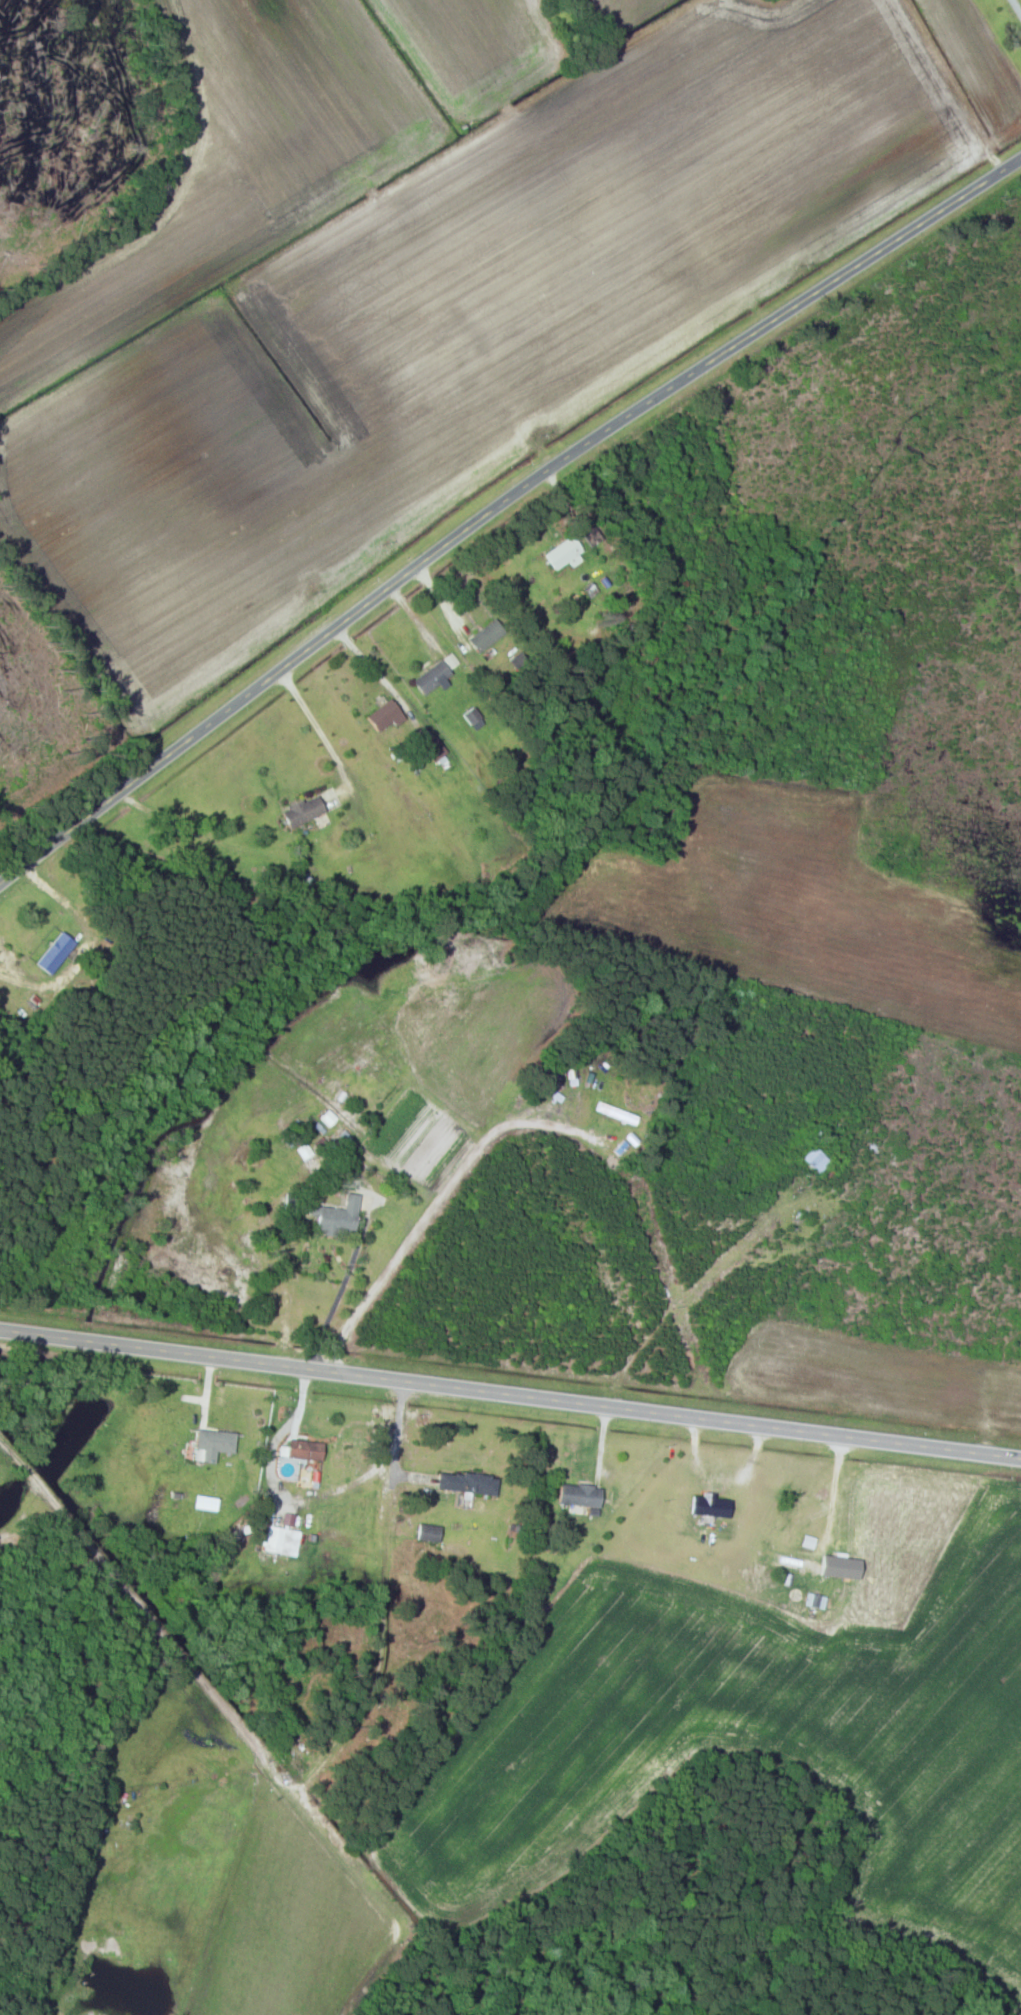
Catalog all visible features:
road: (499, 503)
building: (565, 553)
building: (487, 635)
building: (433, 677)
building: (386, 715)
building: (472, 715)
building: (435, 748)
building: (304, 810)
building: (244, 861)
building: (56, 953)
building: (619, 1113)
building: (816, 1160)
building: (341, 1217)
road: (358, 1374)
road: (869, 1433)
building: (214, 1444)
building: (305, 1450)
building: (472, 1483)
building: (581, 1495)
building: (711, 1507)
building: (430, 1533)
building: (278, 1541)
building: (795, 1565)
road: (148, 1616)

